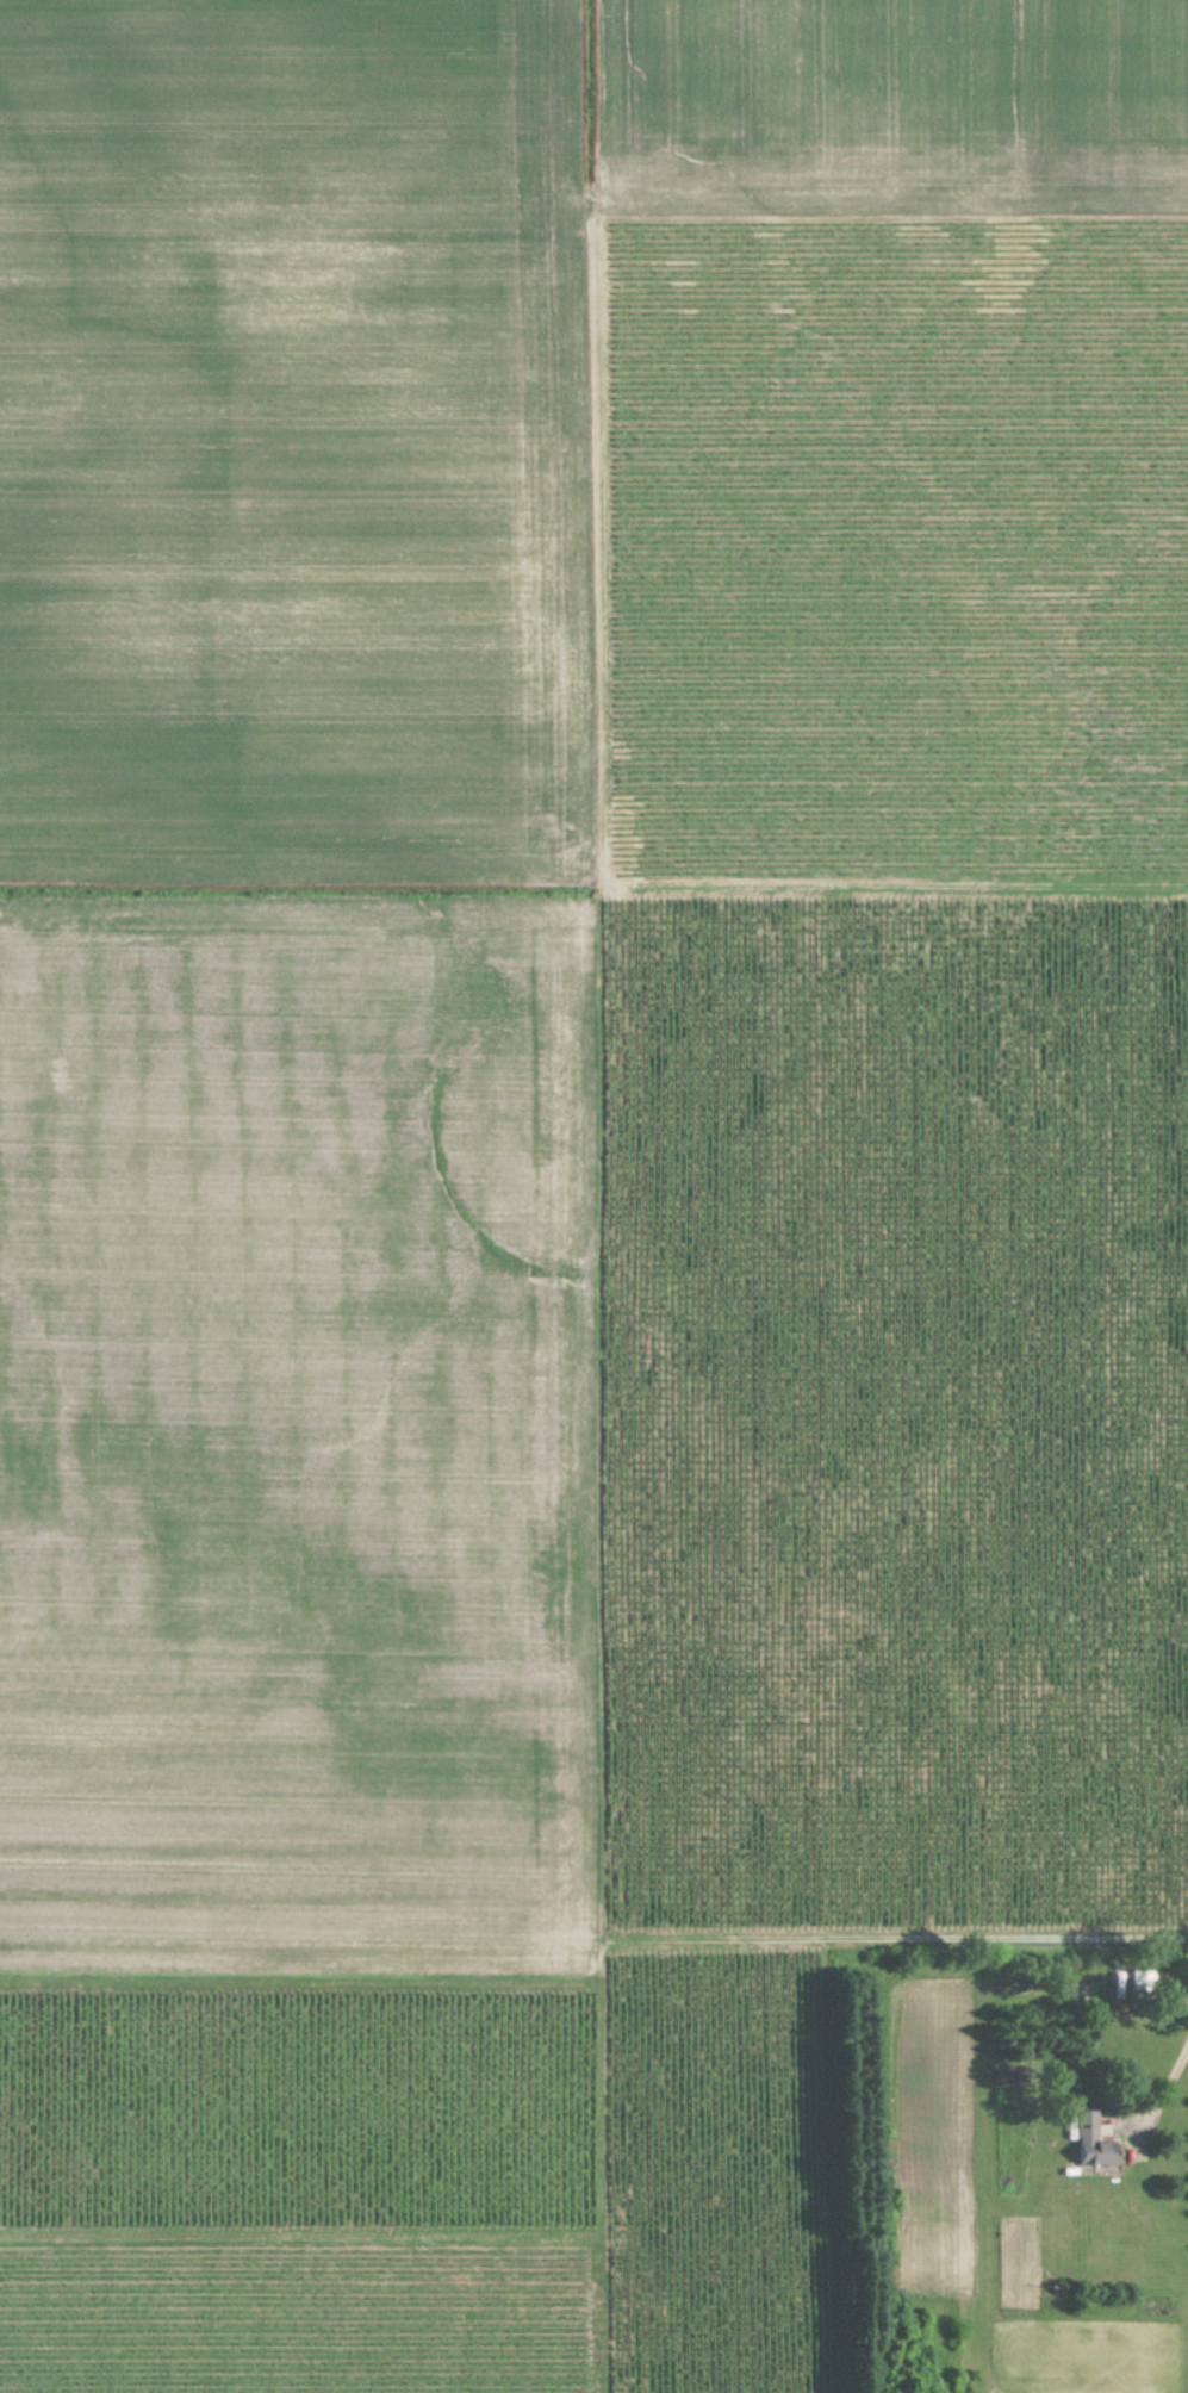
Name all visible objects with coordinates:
building: (1137, 1983)
road: (1163, 2084)
building: (1084, 2139)

